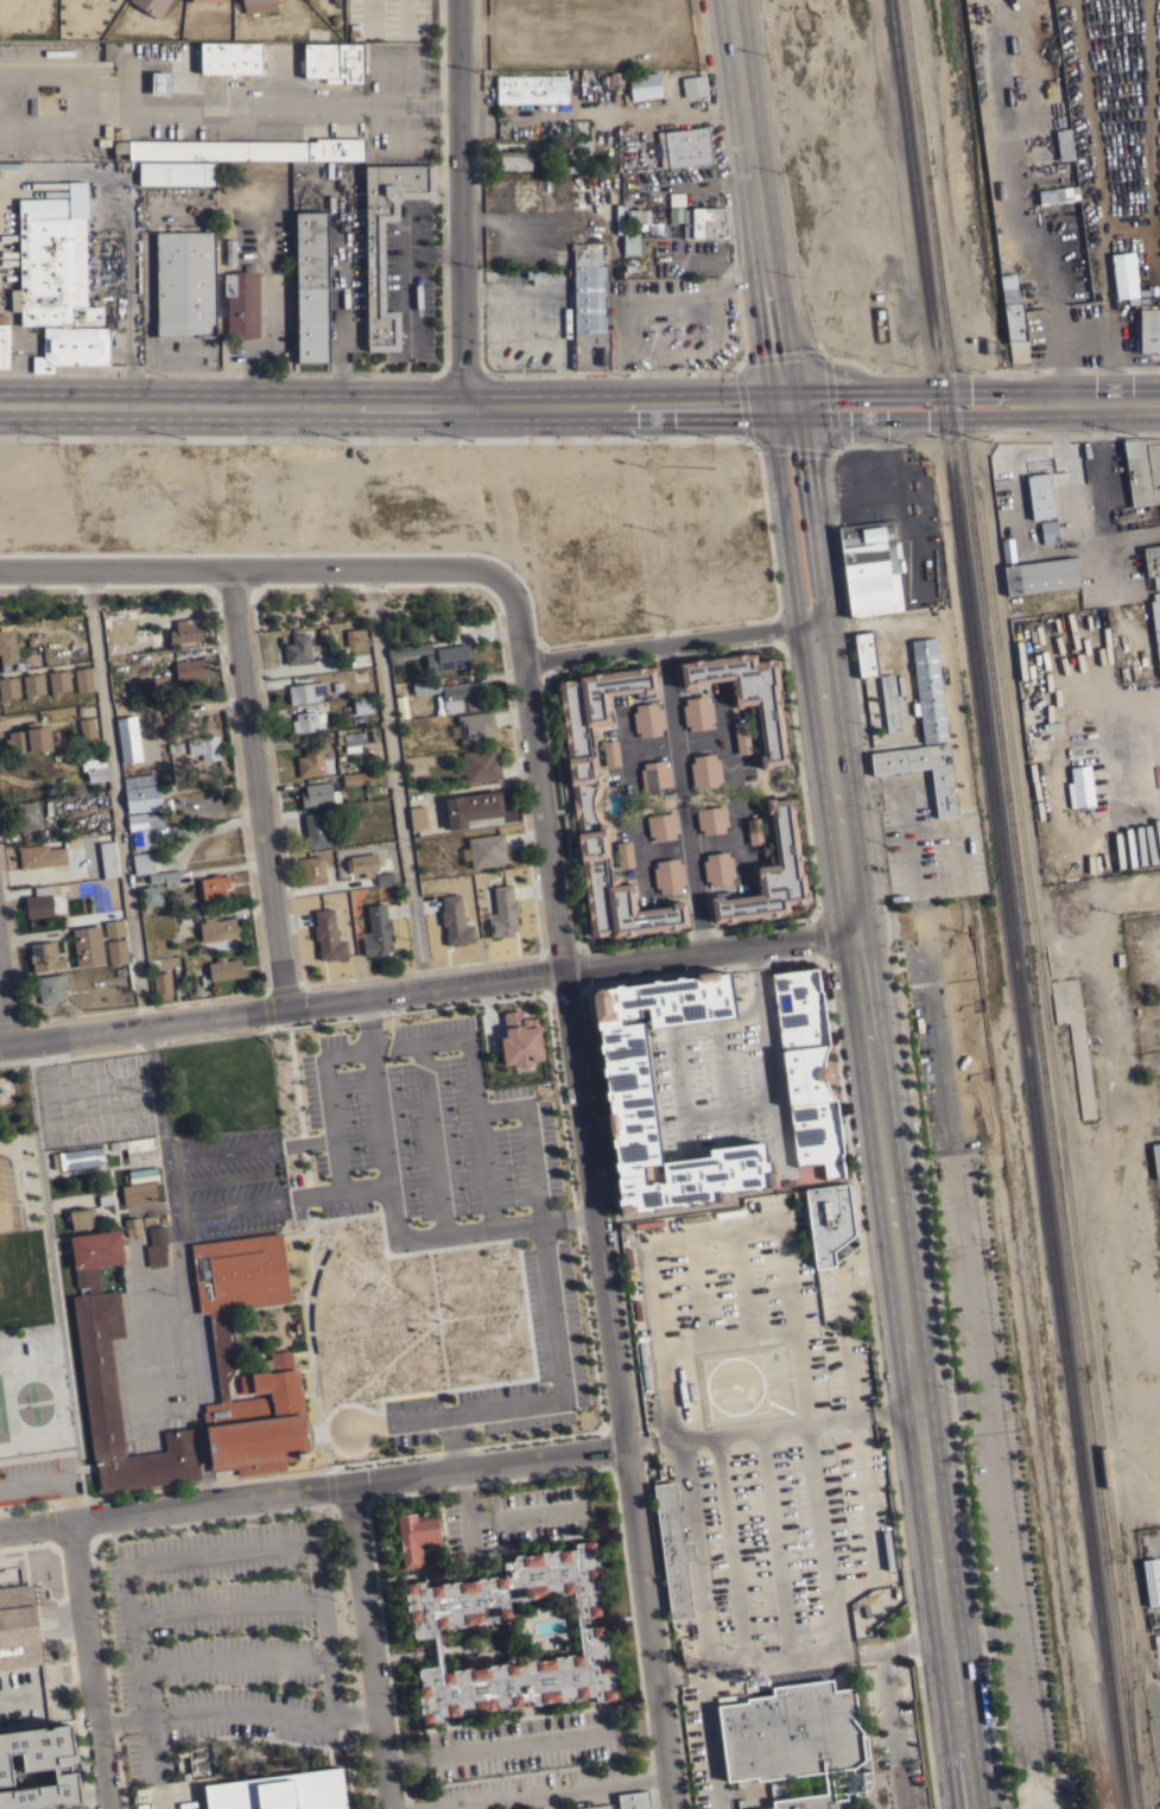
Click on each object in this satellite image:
building: (210, 0)
building: (253, 1)
building: (151, 6)
building: (108, 51)
building: (229, 58)
building: (334, 62)
building: (610, 80)
building: (160, 82)
building: (644, 85)
building: (693, 85)
building: (530, 89)
building: (1064, 144)
building: (582, 146)
building: (687, 147)
building: (245, 150)
building: (514, 160)
building: (568, 164)
building: (175, 172)
road: (52, 177)
railway: (943, 178)
railway: (931, 179)
building: (1058, 195)
building: (676, 199)
road: (759, 201)
road: (459, 202)
building: (44, 208)
building: (674, 215)
building: (636, 216)
building: (222, 217)
building: (704, 222)
building: (651, 229)
building: (632, 242)
building: (230, 250)
road: (433, 253)
building: (587, 253)
building: (374, 266)
building: (629, 267)
building: (53, 273)
building: (1123, 277)
road: (406, 279)
building: (185, 284)
building: (312, 286)
road: (341, 291)
building: (14, 299)
building: (242, 303)
building: (1013, 310)
building: (590, 318)
building: (1149, 330)
building: (4, 344)
building: (72, 347)
road: (221, 372)
road: (924, 391)
railway: (972, 401)
traffic signals: (787, 402)
road: (1109, 402)
road: (393, 404)
railway: (961, 404)
road: (1059, 414)
road: (924, 417)
road: (462, 434)
road: (761, 442)
building: (1142, 469)
building: (1040, 494)
building: (1045, 531)
building: (1007, 548)
building: (868, 550)
building: (1152, 563)
road: (247, 570)
building: (1040, 575)
building: (873, 595)
road: (780, 624)
building: (1156, 626)
building: (185, 630)
building: (355, 637)
road: (668, 640)
building: (7, 649)
building: (297, 649)
building: (407, 649)
building: (864, 654)
building: (448, 658)
road: (820, 665)
building: (191, 669)
building: (83, 680)
building: (58, 681)
building: (32, 684)
building: (425, 686)
building: (908, 686)
building: (8, 687)
building: (928, 690)
building: (159, 691)
building: (305, 692)
building: (747, 694)
building: (459, 696)
building: (889, 703)
building: (362, 705)
building: (400, 706)
building: (697, 713)
building: (647, 719)
building: (308, 722)
building: (474, 728)
building: (88, 732)
building: (742, 737)
building: (30, 738)
building: (128, 738)
building: (350, 740)
building: (204, 747)
road: (1052, 751)
building: (610, 753)
building: (313, 762)
road: (1156, 764)
building: (478, 766)
building: (94, 768)
building: (705, 770)
road: (800, 775)
road: (398, 776)
building: (654, 776)
building: (367, 777)
road: (259, 787)
building: (1079, 787)
building: (141, 793)
building: (318, 794)
road: (684, 794)
building: (944, 794)
road: (116, 796)
building: (473, 807)
building: (587, 807)
building: (27, 814)
building: (418, 817)
road: (1122, 818)
building: (711, 819)
building: (144, 820)
building: (661, 826)
building: (317, 830)
building: (755, 831)
building: (141, 839)
building: (1140, 849)
building: (484, 850)
building: (40, 855)
building: (625, 855)
building: (108, 858)
building: (142, 863)
building: (362, 864)
building: (717, 868)
building: (312, 869)
building: (769, 874)
building: (668, 875)
building: (164, 877)
building: (214, 886)
building: (151, 895)
building: (38, 902)
railway: (1007, 903)
road: (1107, 903)
railway: (1020, 904)
building: (502, 913)
building: (455, 921)
road: (888, 922)
building: (114, 928)
building: (217, 928)
building: (376, 932)
building: (328, 935)
building: (88, 945)
building: (116, 951)
building: (45, 957)
building: (224, 969)
building: (161, 984)
road: (426, 984)
building: (51, 988)
road: (5, 1005)
building: (520, 1040)
road: (424, 1042)
road: (723, 1065)
building: (807, 1069)
building: (628, 1096)
park: (93, 1099)
road: (722, 1109)
road: (158, 1117)
railway: (1061, 1126)
road: (914, 1128)
railway: (1050, 1128)
railway: (1060, 1132)
road: (432, 1138)
building: (135, 1145)
road: (247, 1148)
building: (78, 1157)
building: (1155, 1159)
road: (956, 1172)
parking lot: (229, 1178)
road: (594, 1188)
building: (139, 1193)
parking lot: (454, 1193)
building: (104, 1195)
road: (280, 1195)
park: (6, 1199)
road: (394, 1217)
building: (695, 1217)
building: (76, 1218)
building: (830, 1221)
building: (648, 1224)
building: (133, 1225)
road: (313, 1238)
building: (157, 1245)
building: (96, 1249)
road: (46, 1259)
road: (372, 1271)
road: (786, 1276)
road: (431, 1277)
road: (737, 1282)
road: (691, 1289)
road: (521, 1290)
parking lot: (752, 1306)
road: (484, 1310)
road: (842, 1315)
park: (30, 1321)
road: (430, 1322)
road: (368, 1327)
road: (554, 1333)
parking lot: (977, 1335)
road: (655, 1338)
road: (442, 1356)
building: (280, 1360)
road: (912, 1367)
road: (374, 1371)
road: (1151, 1377)
building: (100, 1379)
road: (879, 1382)
airport: (742, 1383)
helipad: (733, 1385)
park: (31, 1389)
road: (951, 1401)
road: (895, 1409)
park: (36, 1415)
park: (2, 1417)
road: (749, 1430)
road: (454, 1442)
road: (70, 1448)
parking lot: (27, 1473)
road: (55, 1475)
road: (329, 1485)
road: (312, 1489)
road: (867, 1497)
road: (462, 1517)
road: (522, 1521)
parking lot: (787, 1531)
building: (416, 1536)
road: (823, 1537)
road: (773, 1544)
building: (672, 1550)
road: (729, 1550)
building: (887, 1550)
road: (697, 1554)
road: (186, 1557)
building: (1152, 1580)
road: (227, 1604)
building: (18, 1627)
building: (425, 1631)
parking lot: (223, 1637)
road: (901, 1644)
road: (367, 1648)
road: (235, 1658)
road: (1019, 1662)
road: (756, 1663)
road: (89, 1664)
road: (236, 1710)
road: (518, 1714)
road: (892, 1725)
building: (791, 1732)
parking lot: (524, 1741)
road: (522, 1744)
building: (39, 1767)
road: (1032, 1769)
road: (1044, 1772)
parking lot: (531, 1786)
building: (280, 1791)
road: (538, 1791)
parking lot: (166, 1796)
building: (812, 1798)
road: (550, 1800)
building: (634, 1800)
building: (597, 1807)

